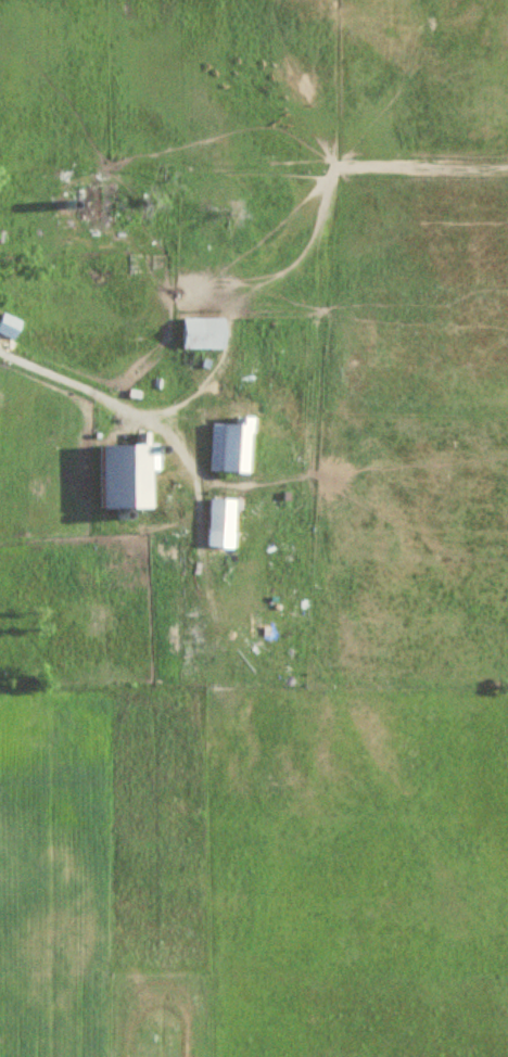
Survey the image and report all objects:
building: (92, 203)
building: (140, 264)
building: (10, 327)
building: (205, 333)
building: (232, 447)
building: (131, 475)
building: (225, 514)

